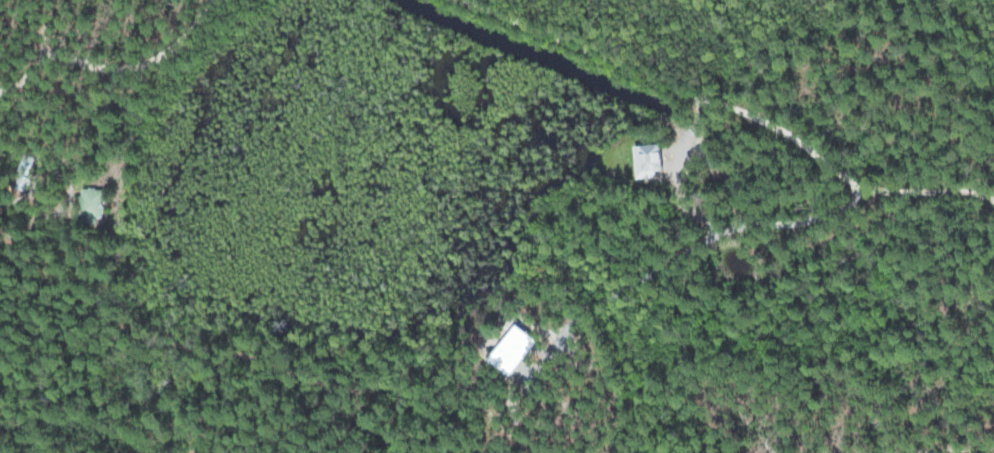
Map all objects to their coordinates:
road: (116, 73)
road: (729, 112)
building: (644, 159)
building: (32, 170)
building: (100, 202)
road: (707, 285)
building: (506, 349)

